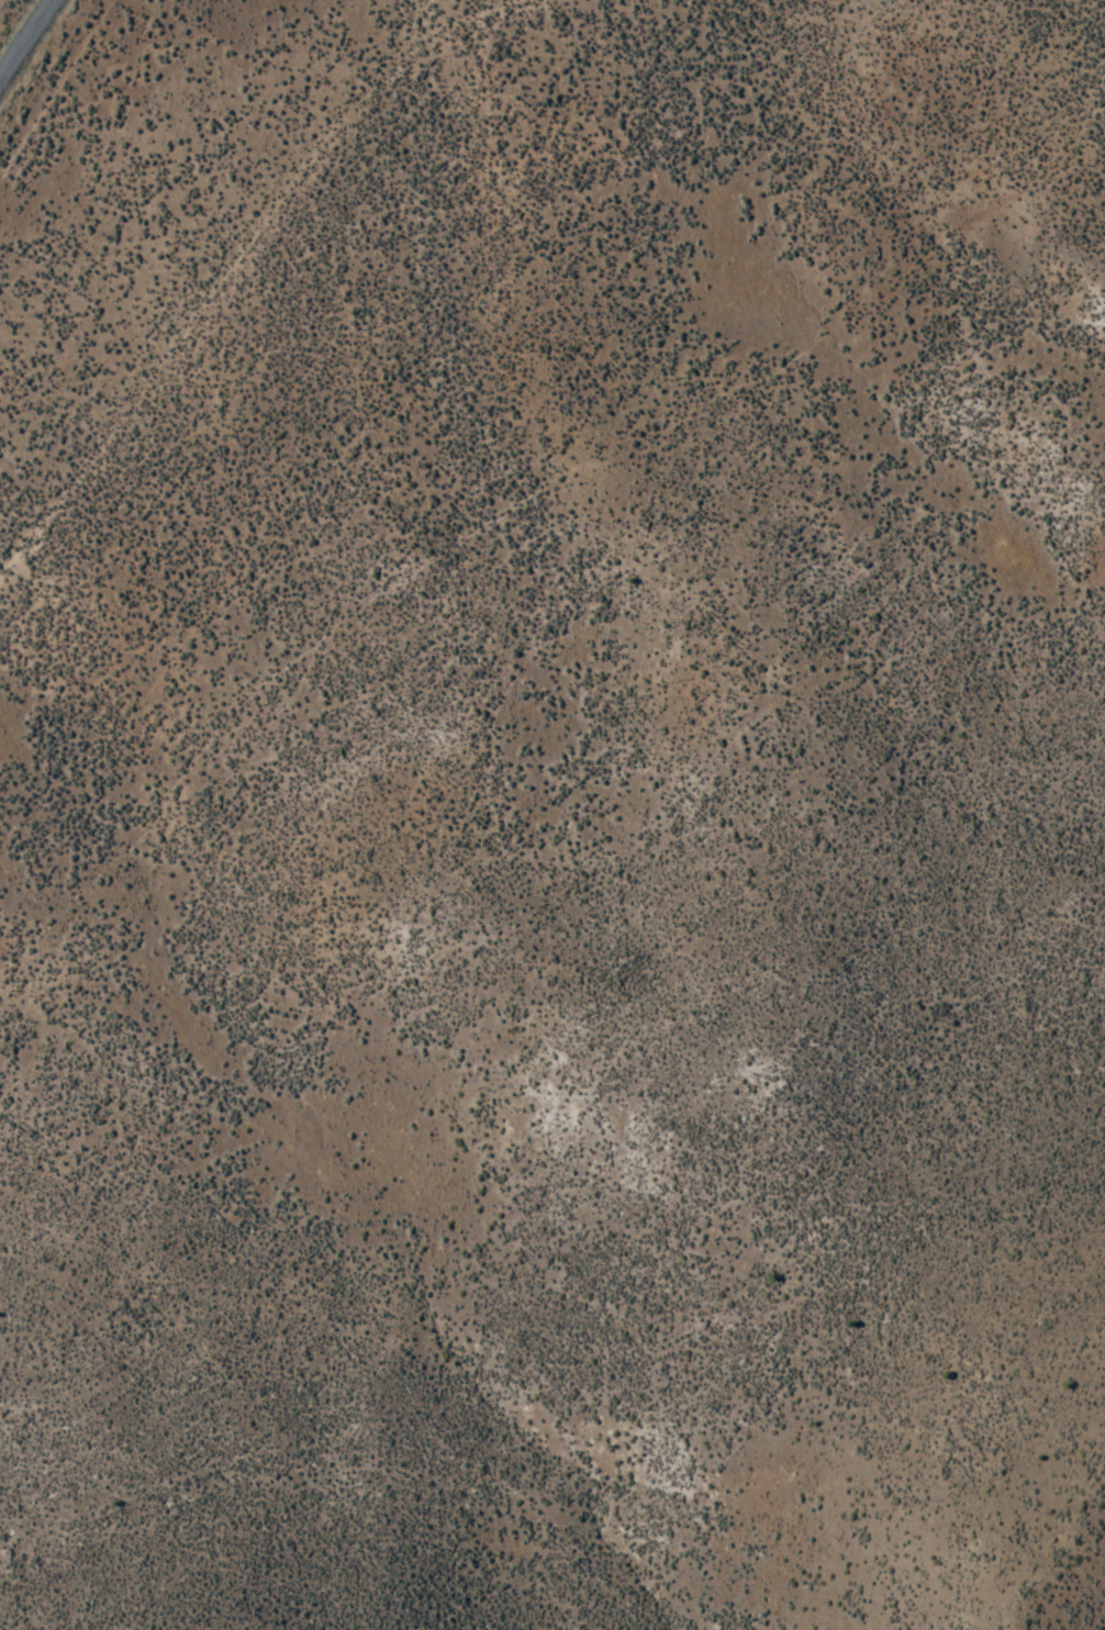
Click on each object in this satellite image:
road: (26, 37)

